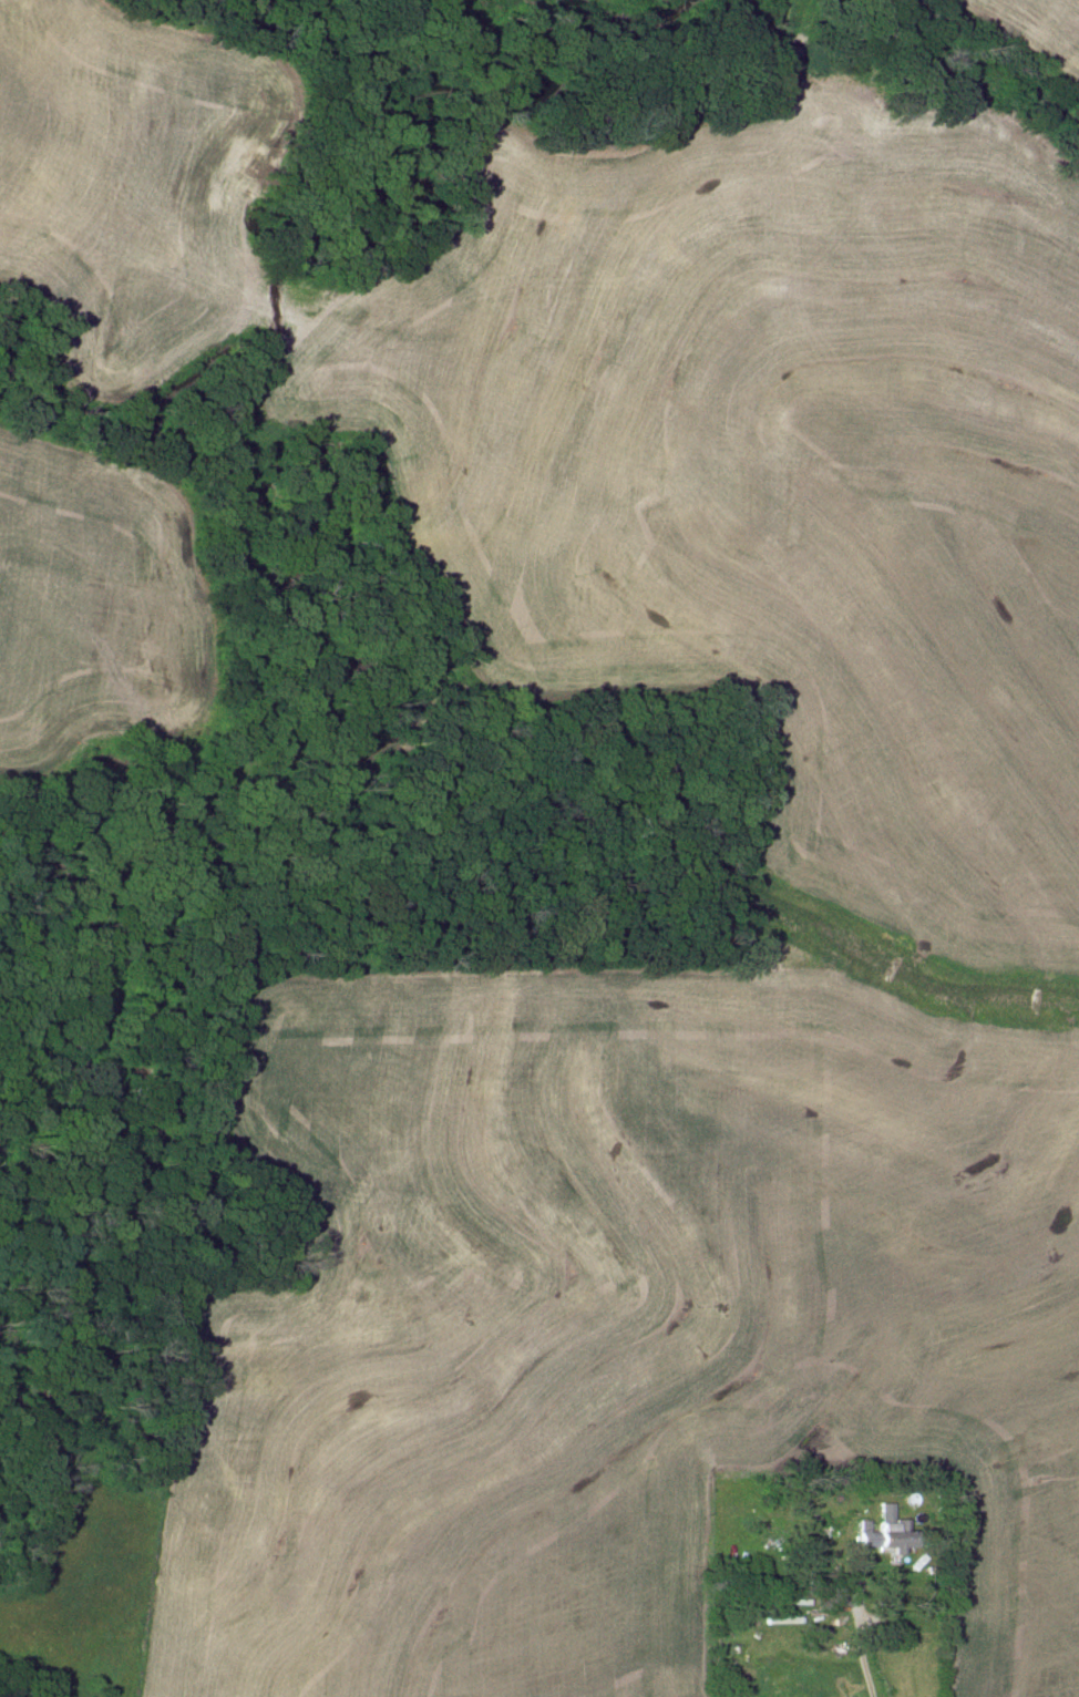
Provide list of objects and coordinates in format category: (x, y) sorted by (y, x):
building: (883, 1518)
building: (789, 1603)
road: (856, 1636)

